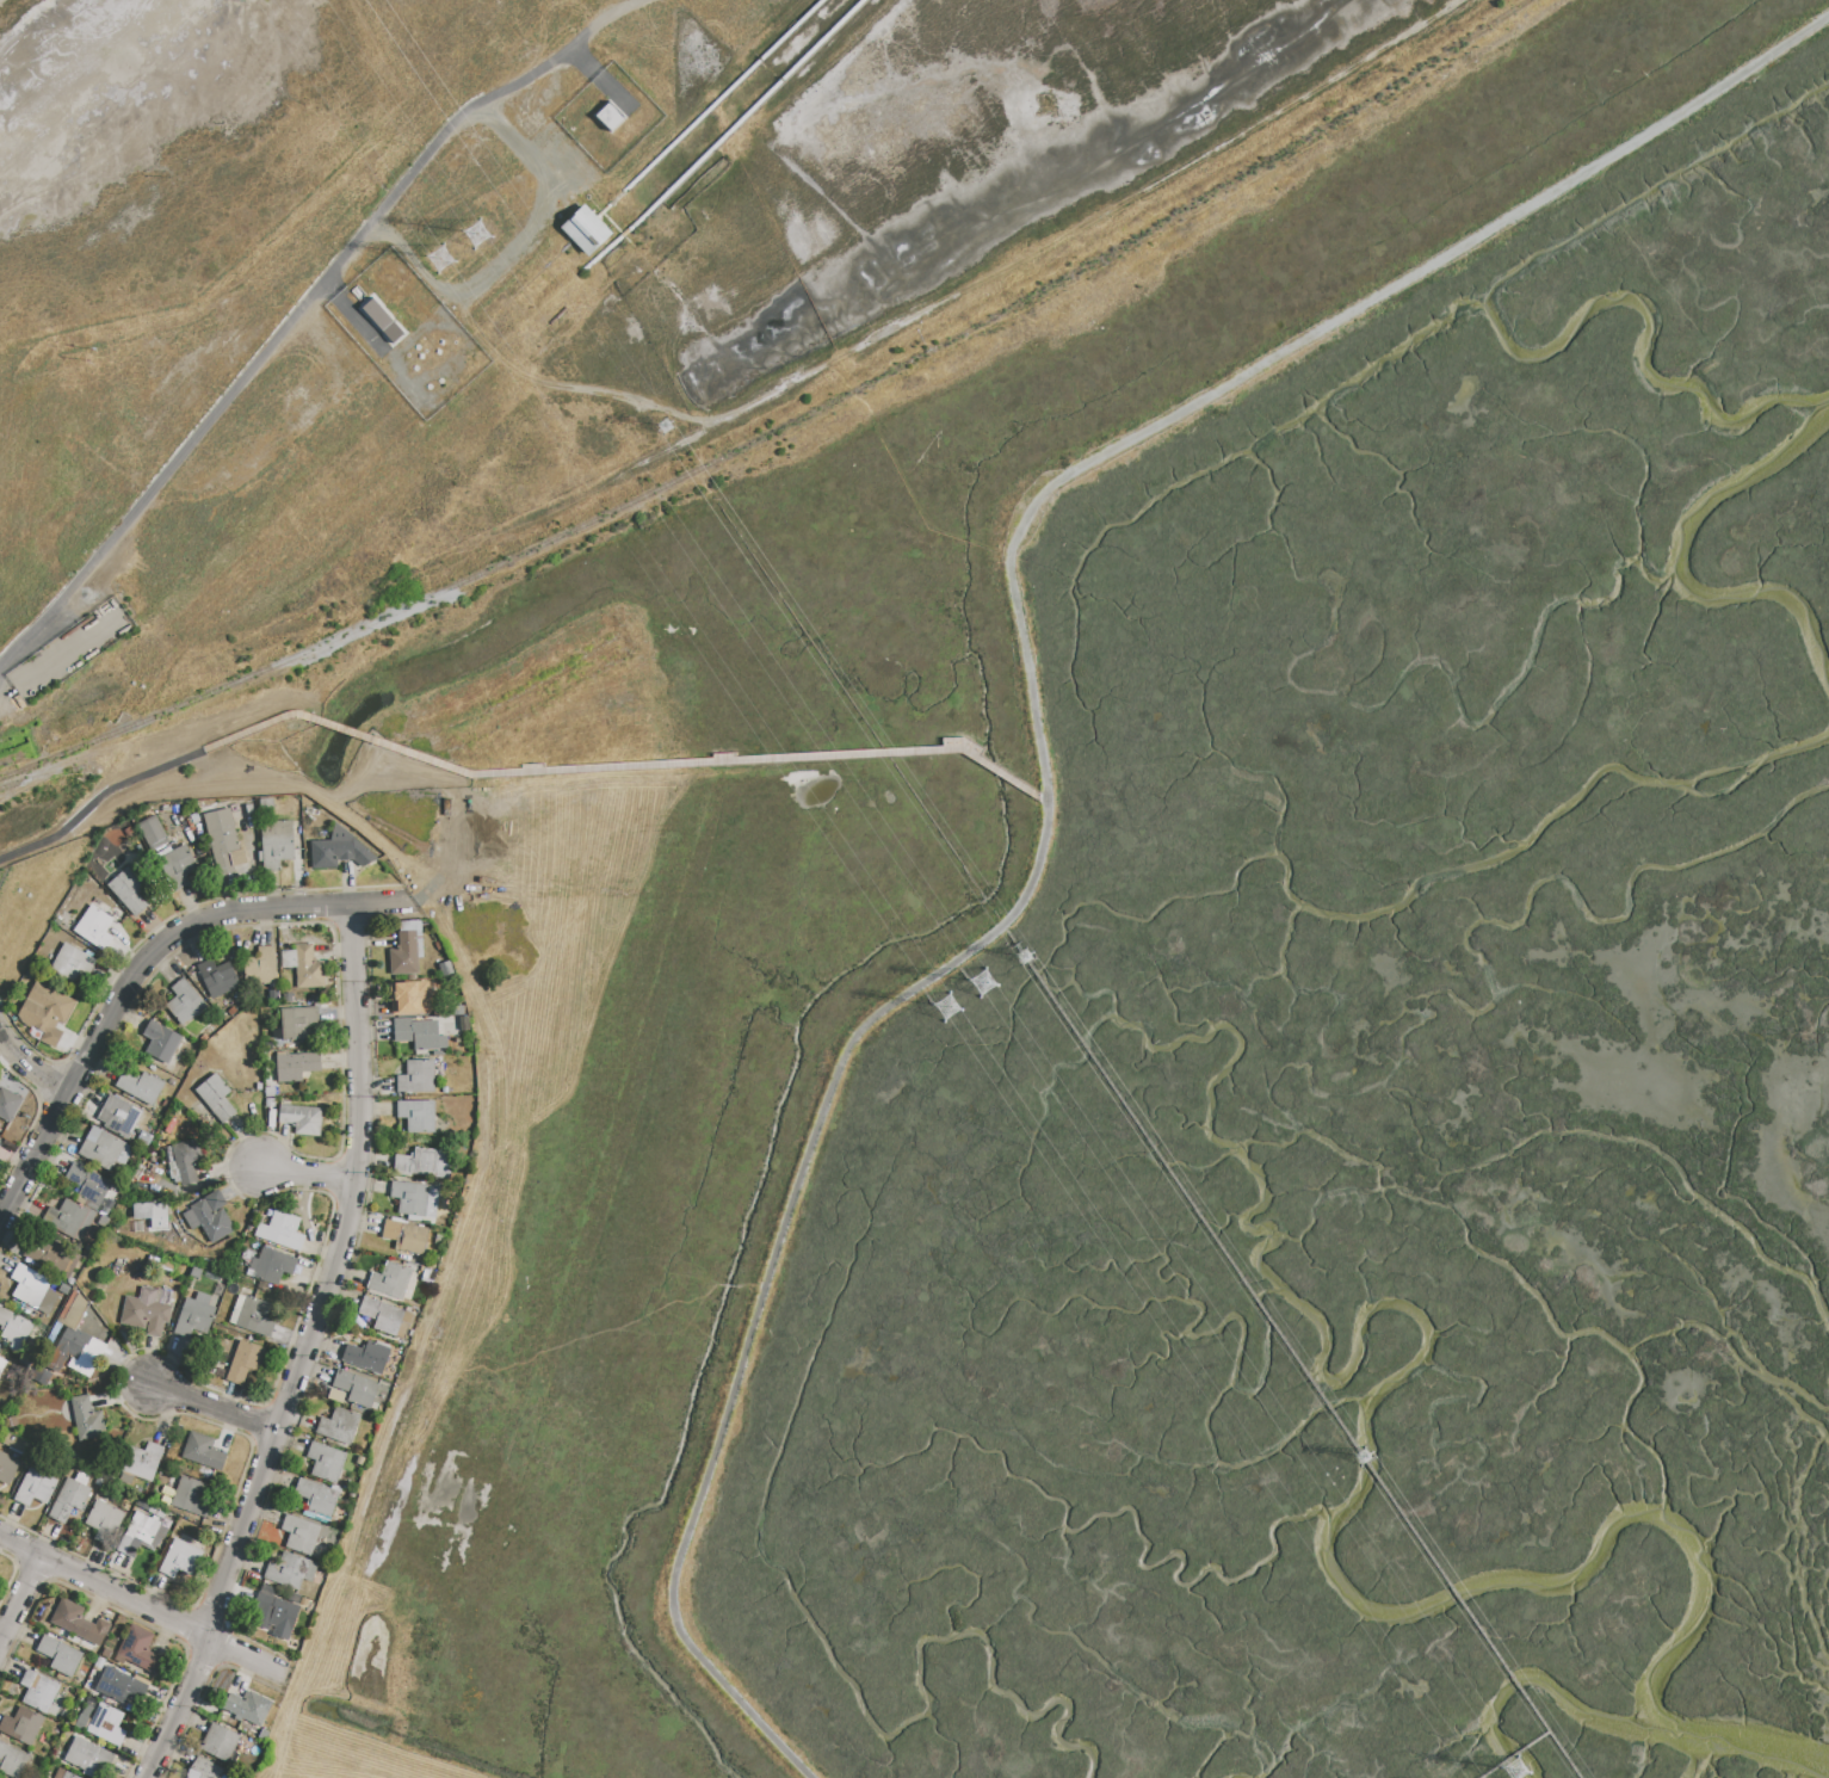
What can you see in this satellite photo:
road: (1, 1)
road: (601, 79)
building: (607, 117)
building: (583, 230)
power tower: (474, 235)
road: (512, 254)
power tower: (441, 261)
road: (299, 309)
road: (1347, 315)
road: (353, 317)
building: (381, 320)
power tower: (668, 426)
railway: (781, 426)
road: (613, 771)
railway: (42, 777)
road: (1039, 802)
road: (98, 803)
building: (153, 833)
building: (223, 838)
building: (277, 844)
building: (338, 851)
building: (175, 868)
road: (1, 876)
building: (128, 891)
street lamp: (305, 893)
road: (325, 905)
road: (193, 906)
road: (350, 926)
building: (94, 928)
building: (404, 955)
power tower: (1032, 956)
building: (72, 963)
road: (137, 965)
street lamp: (121, 968)
building: (260, 968)
building: (309, 968)
building: (446, 969)
building: (217, 978)
road: (147, 980)
power tower: (989, 989)
building: (410, 998)
building: (185, 1002)
building: (45, 1012)
power tower: (953, 1012)
building: (297, 1023)
building: (418, 1035)
road: (25, 1043)
building: (165, 1044)
street lamp: (73, 1054)
building: (295, 1066)
road: (31, 1067)
road: (78, 1069)
building: (418, 1078)
road: (50, 1086)
building: (140, 1086)
building: (267, 1092)
building: (215, 1098)
building: (268, 1104)
building: (8, 1105)
building: (418, 1116)
road: (33, 1117)
road: (51, 1117)
building: (119, 1117)
building: (302, 1119)
building: (104, 1150)
building: (184, 1162)
building: (425, 1163)
road: (309, 1174)
street lamp: (367, 1177)
street lamp: (228, 1180)
building: (88, 1185)
building: (415, 1199)
road: (24, 1202)
building: (152, 1216)
building: (210, 1217)
building: (73, 1220)
road: (786, 1222)
building: (280, 1230)
building: (406, 1237)
building: (47, 1252)
building: (272, 1266)
building: (390, 1280)
building: (32, 1289)
building: (422, 1289)
road: (340, 1291)
building: (73, 1310)
building: (147, 1310)
building: (194, 1316)
building: (384, 1316)
building: (255, 1317)
building: (14, 1329)
road: (1291, 1351)
road: (304, 1352)
building: (76, 1353)
building: (366, 1358)
building: (245, 1362)
building: (2, 1366)
building: (352, 1389)
road: (285, 1400)
road: (252, 1403)
road: (217, 1409)
building: (86, 1419)
road: (258, 1422)
building: (339, 1427)
building: (13, 1441)
building: (203, 1451)
power tower: (1374, 1453)
building: (142, 1461)
building: (326, 1462)
building: (7, 1468)
building: (35, 1488)
building: (189, 1498)
building: (69, 1500)
building: (316, 1500)
building: (104, 1521)
street lamp: (32, 1536)
building: (142, 1536)
building: (302, 1536)
street lamp: (251, 1539)
building: (181, 1560)
building: (290, 1572)
road: (30, 1573)
road: (11, 1574)
street lamp: (143, 1591)
road: (20, 1600)
road: (141, 1609)
road: (191, 1609)
building: (272, 1611)
building: (72, 1619)
road: (135, 1620)
street lamp: (229, 1632)
building: (138, 1649)
building: (60, 1656)
building: (119, 1686)
building: (38, 1691)
road: (204, 1691)
building: (248, 1708)
street lamp: (193, 1709)
building: (84, 1717)
building: (21, 1725)
building: (106, 1725)
building: (220, 1742)
road: (1516, 1755)
building: (89, 1758)
building: (12, 1761)
building: (204, 1770)
building: (63, 1774)
power tower: (1521, 1774)

